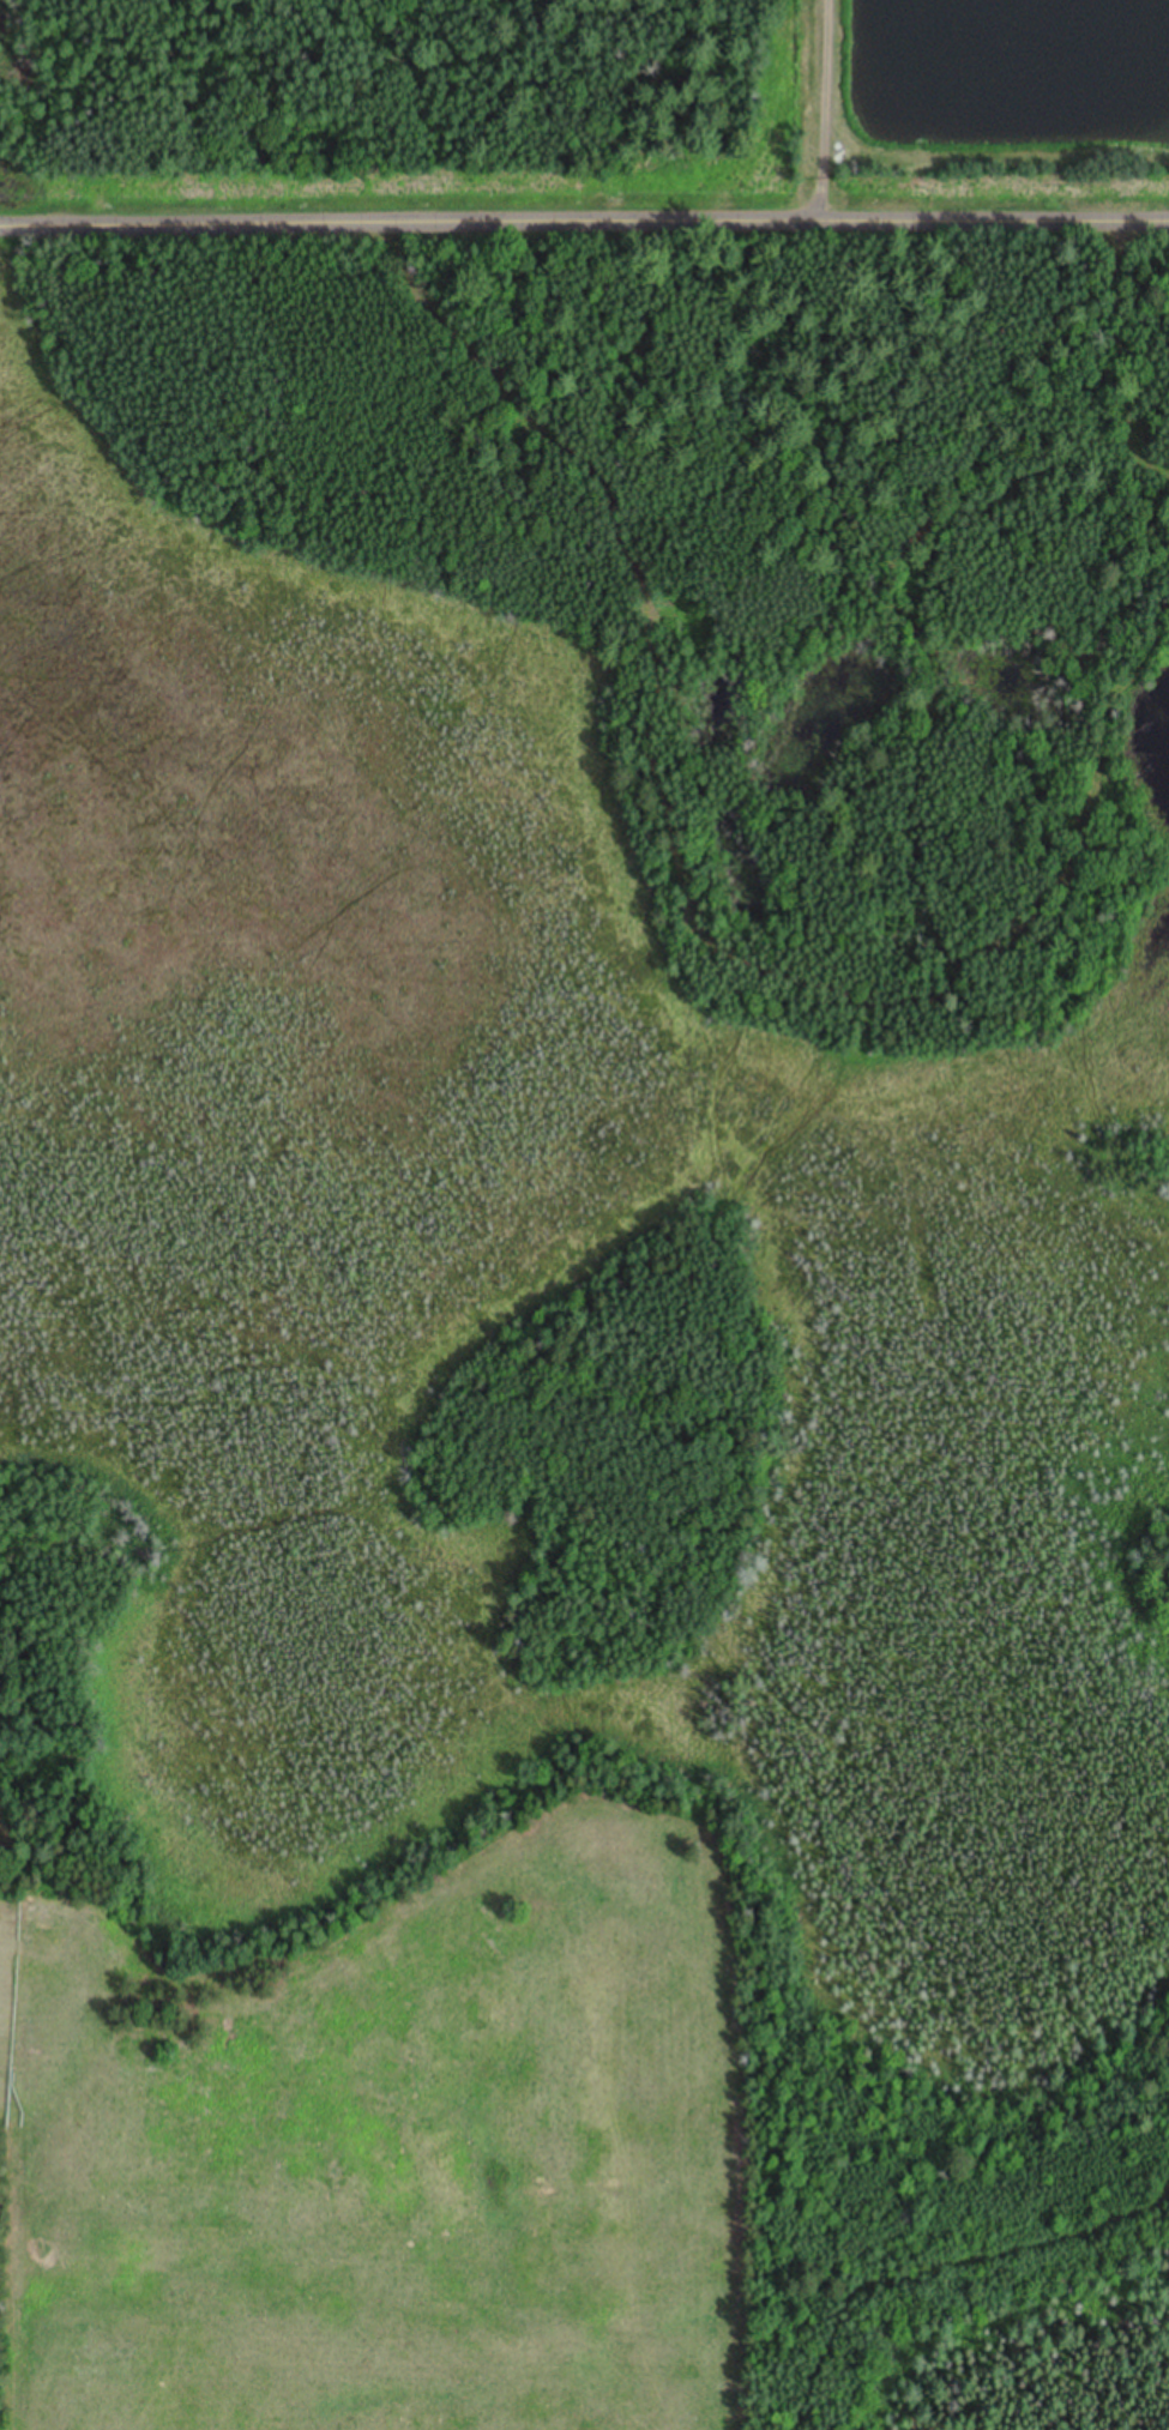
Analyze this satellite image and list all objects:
road: (584, 223)

